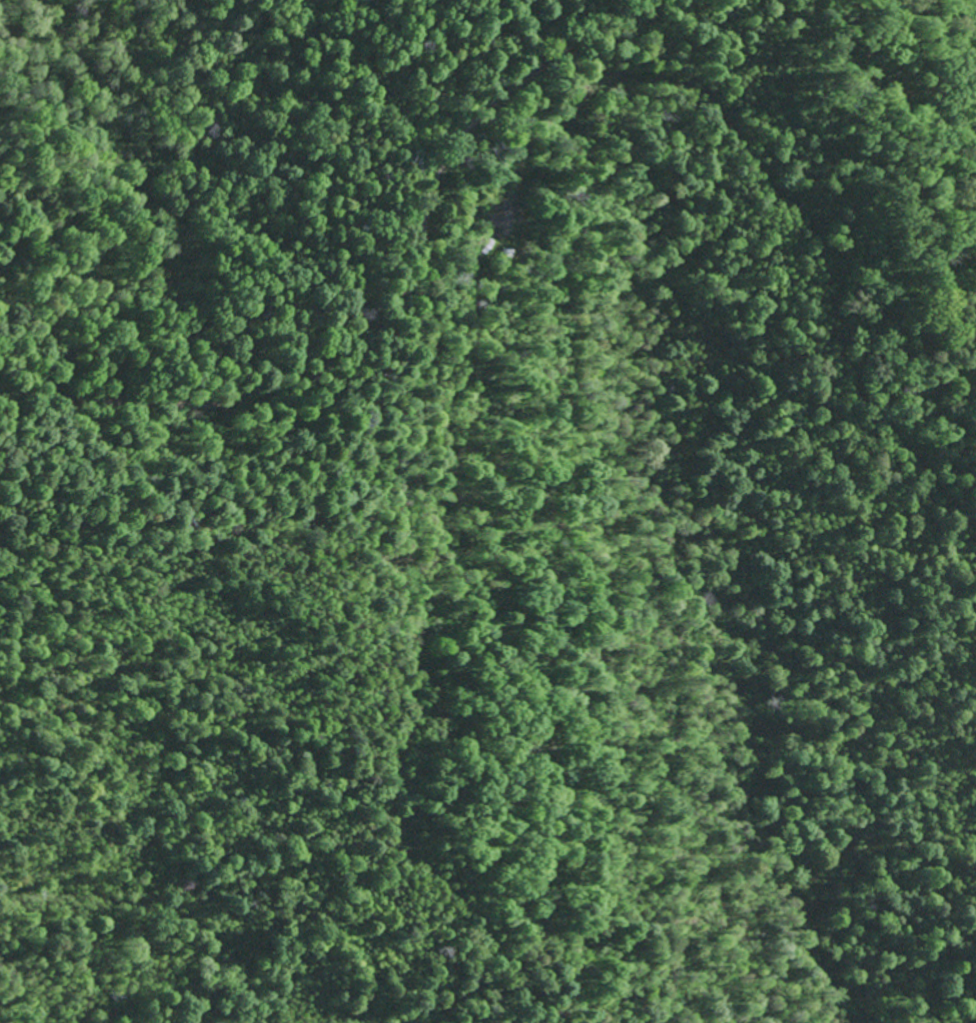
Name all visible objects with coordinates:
road: (371, 324)

